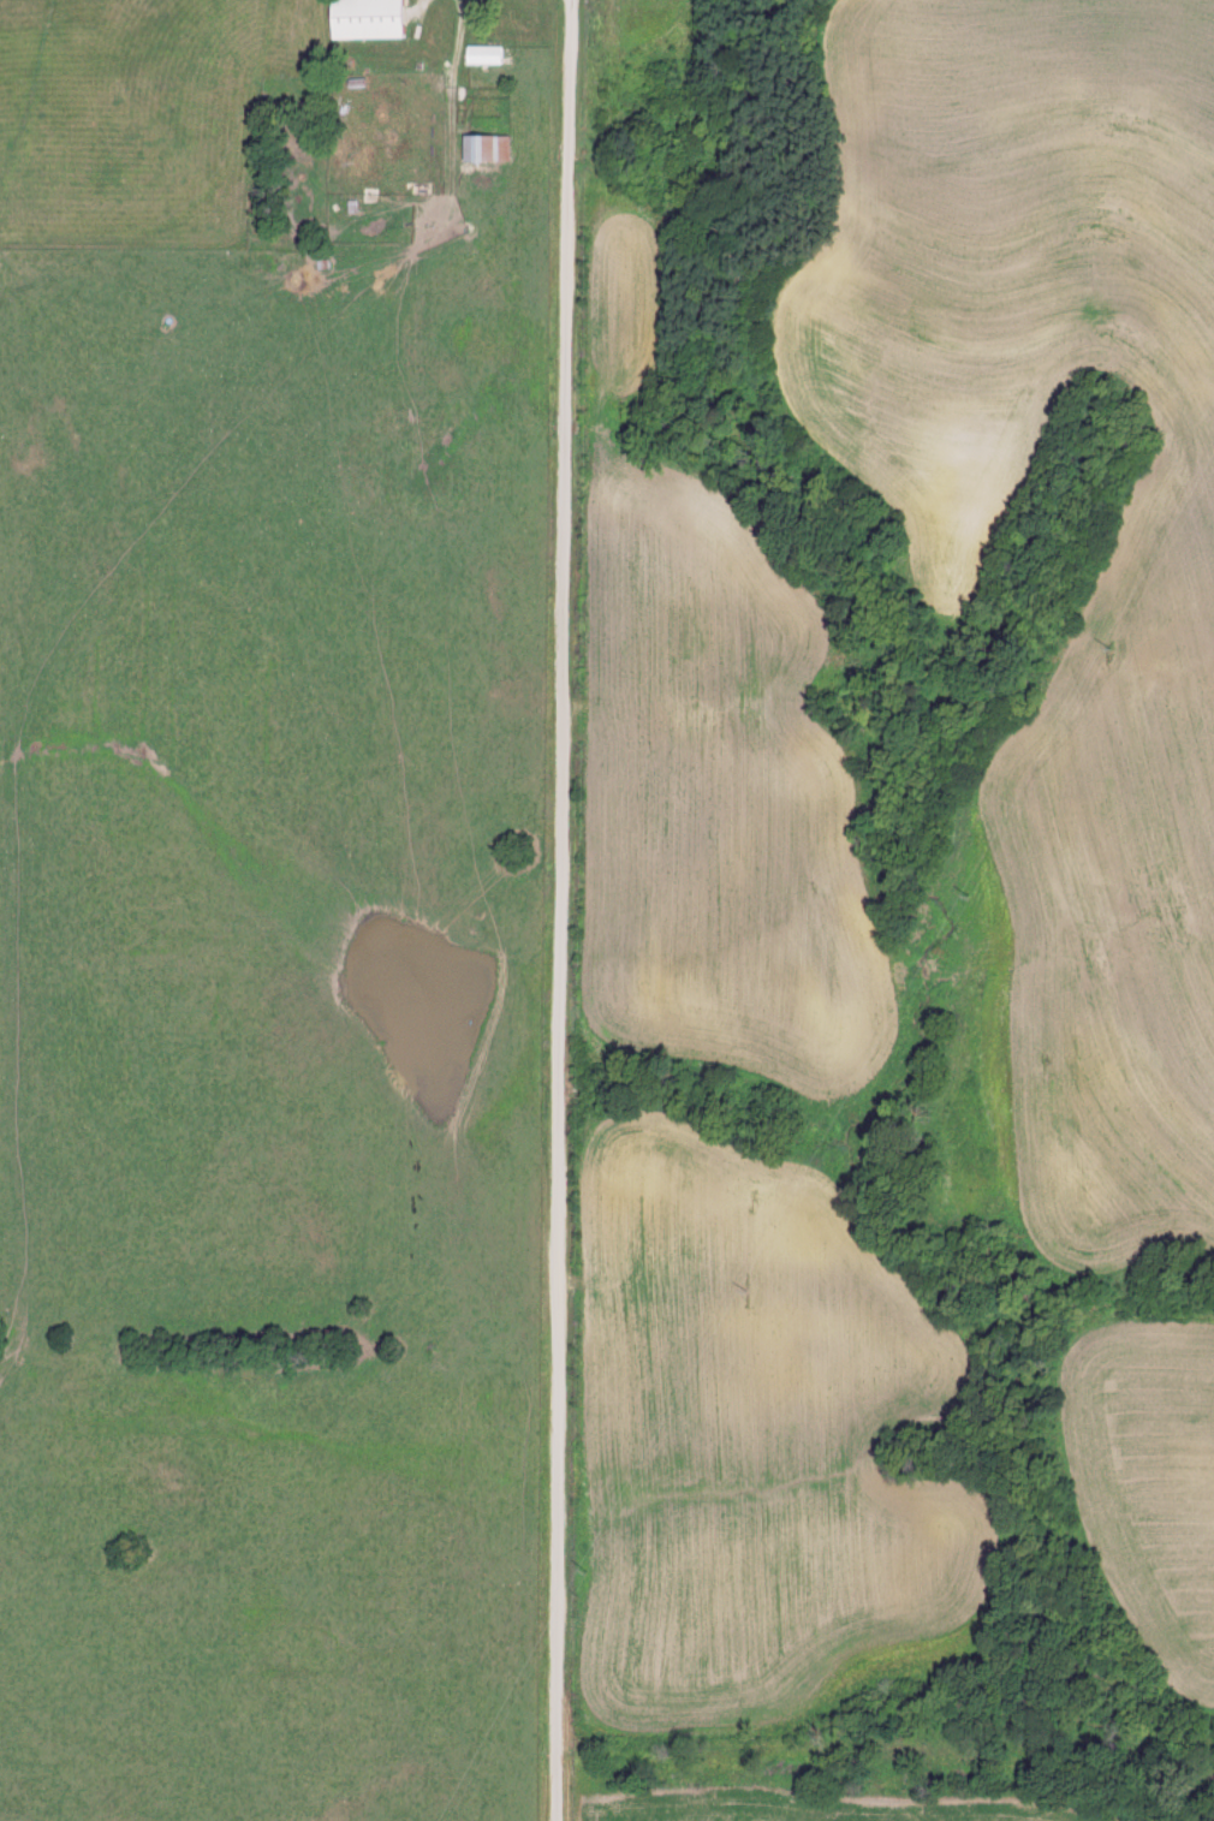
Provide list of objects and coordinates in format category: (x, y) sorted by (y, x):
building: (362, 18)
building: (482, 53)
building: (483, 147)
road: (570, 910)

